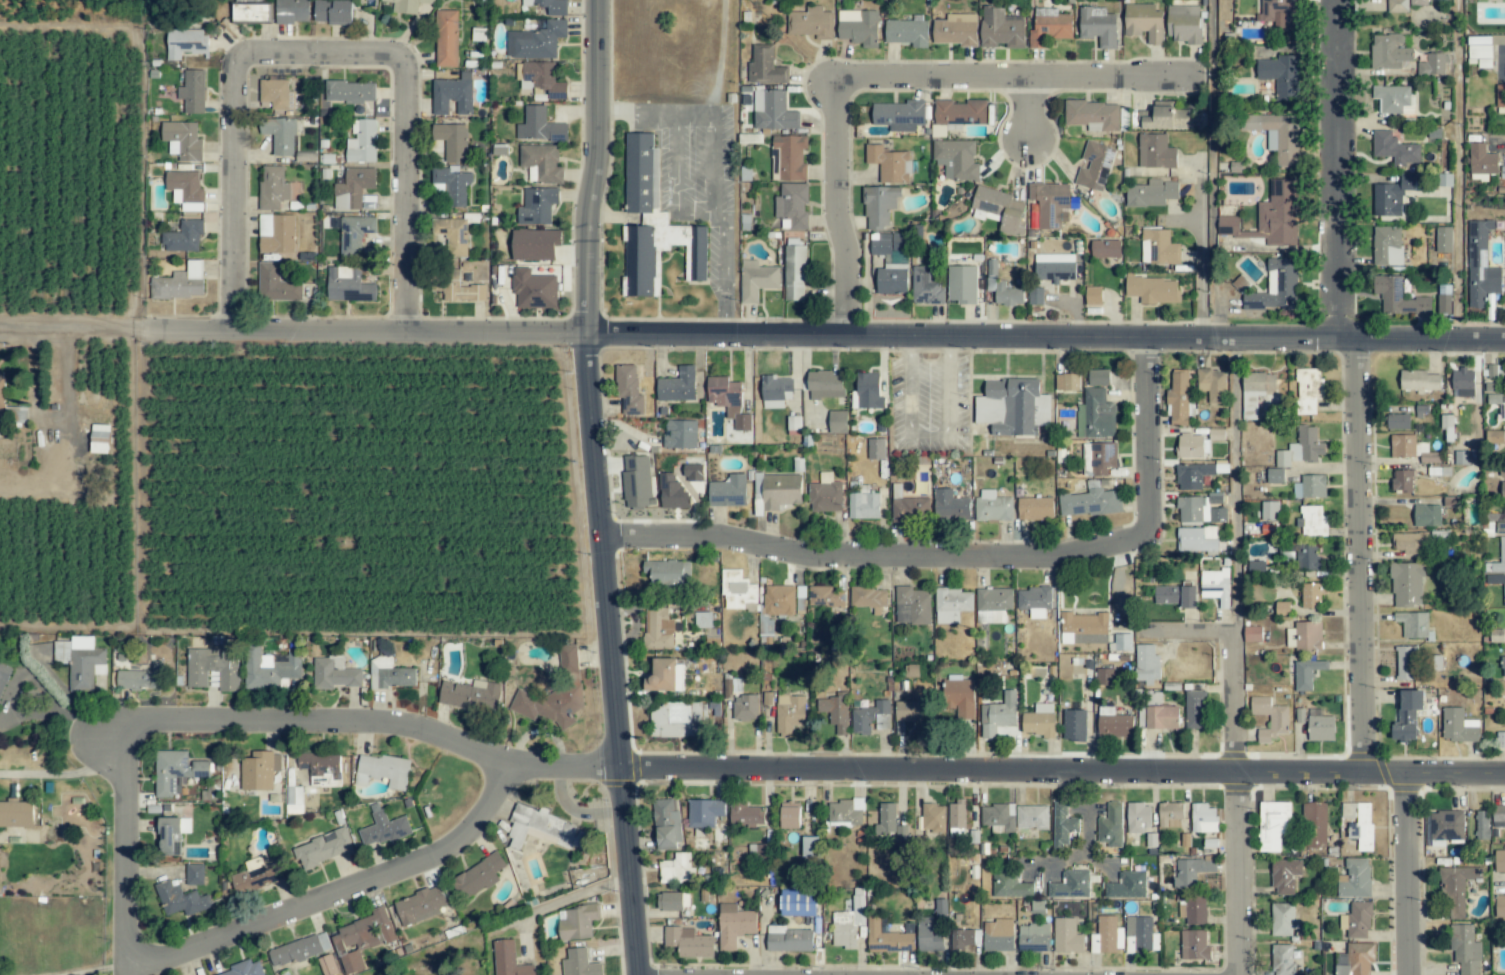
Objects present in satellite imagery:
building: (407, 5)
building: (1403, 5)
building: (549, 6)
building: (250, 11)
building: (291, 11)
building: (332, 11)
building: (1280, 12)
building: (811, 23)
building: (1144, 23)
building: (1184, 23)
building: (1098, 26)
building: (858, 27)
building: (1001, 29)
building: (1049, 29)
building: (956, 30)
building: (906, 32)
building: (446, 38)
building: (536, 41)
building: (186, 43)
building: (1389, 51)
building: (1479, 51)
road: (322, 55)
road: (719, 56)
building: (1433, 64)
building: (765, 67)
building: (1281, 75)
road: (886, 77)
building: (542, 80)
building: (193, 91)
building: (349, 92)
building: (277, 94)
building: (453, 94)
building: (1500, 95)
building: (1394, 99)
road: (1031, 108)
road: (654, 111)
building: (773, 111)
building: (960, 112)
building: (899, 115)
building: (1093, 115)
building: (1164, 116)
building: (540, 126)
building: (280, 135)
building: (1280, 135)
building: (182, 140)
building: (1271, 140)
building: (452, 141)
building: (362, 142)
road: (1504, 142)
building: (1394, 148)
building: (1155, 152)
building: (791, 157)
building: (956, 159)
building: (1482, 161)
building: (541, 163)
building: (889, 164)
building: (1094, 166)
road: (1213, 169)
road: (1336, 169)
road: (675, 179)
building: (453, 184)
building: (272, 187)
building: (353, 188)
building: (1151, 193)
building: (1391, 196)
building: (1050, 203)
building: (537, 206)
building: (792, 206)
building: (879, 206)
building: (997, 208)
building: (1278, 214)
road: (720, 221)
building: (653, 224)
building: (1228, 226)
building: (276, 233)
building: (355, 233)
building: (454, 236)
building: (183, 237)
building: (1443, 239)
building: (535, 244)
building: (1387, 246)
building: (1158, 247)
building: (1105, 249)
building: (891, 263)
building: (1480, 265)
road: (585, 267)
building: (1054, 267)
road: (1197, 267)
building: (794, 269)
building: (756, 280)
building: (179, 283)
building: (276, 284)
building: (962, 284)
building: (348, 285)
building: (925, 287)
building: (1276, 287)
building: (1002, 288)
building: (461, 290)
building: (534, 290)
building: (1153, 290)
building: (1093, 295)
building: (1035, 296)
building: (1398, 297)
building: (1444, 302)
road: (73, 328)
road: (825, 335)
building: (1098, 377)
building: (1419, 381)
building: (1067, 382)
building: (1463, 383)
building: (1212, 384)
building: (825, 385)
building: (678, 386)
building: (2, 388)
building: (1308, 390)
building: (629, 391)
building: (775, 391)
building: (868, 391)
building: (1255, 391)
building: (1178, 398)
building: (728, 400)
building: (1013, 407)
building: (1502, 408)
building: (1095, 415)
building: (1398, 421)
road: (52, 422)
building: (837, 422)
building: (1447, 426)
crop: (240, 432)
building: (680, 434)
building: (1216, 434)
road: (928, 435)
building: (1493, 436)
building: (100, 438)
building: (1192, 446)
building: (1301, 448)
building: (1411, 448)
building: (876, 449)
building: (1102, 458)
building: (693, 472)
building: (1275, 475)
building: (1192, 476)
building: (1403, 480)
building: (636, 482)
road: (1235, 485)
building: (1310, 487)
building: (1502, 490)
building: (776, 491)
building: (673, 492)
building: (728, 492)
building: (825, 494)
building: (1090, 502)
building: (863, 505)
building: (950, 506)
building: (992, 507)
building: (1035, 508)
building: (910, 510)
building: (1270, 510)
building: (1202, 511)
building: (1427, 515)
building: (1498, 521)
building: (1311, 522)
building: (1197, 539)
building: (1410, 542)
building: (1502, 550)
road: (976, 557)
building: (1307, 557)
road: (1361, 557)
building: (1256, 567)
building: (668, 572)
building: (1406, 584)
building: (1214, 586)
building: (738, 591)
building: (1504, 593)
building: (1311, 595)
building: (825, 596)
building: (1176, 596)
building: (868, 598)
building: (1035, 601)
building: (776, 605)
building: (952, 605)
building: (993, 605)
building: (912, 606)
building: (1282, 608)
building: (703, 620)
building: (1413, 624)
building: (1083, 628)
building: (658, 629)
road: (1186, 632)
building: (1252, 633)
building: (1308, 636)
building: (1122, 642)
building: (80, 661)
building: (1406, 663)
building: (1146, 664)
building: (213, 666)
building: (1503, 666)
building: (270, 669)
building: (334, 673)
building: (1307, 673)
building: (389, 674)
building: (3, 676)
building: (666, 676)
building: (1104, 677)
building: (141, 678)
building: (555, 694)
building: (471, 696)
building: (959, 698)
road: (1235, 703)
building: (744, 708)
building: (1195, 710)
building: (835, 712)
building: (789, 713)
building: (997, 715)
building: (1407, 716)
building: (1162, 717)
building: (871, 718)
building: (1270, 718)
building: (677, 719)
building: (1039, 721)
building: (1113, 723)
building: (1074, 725)
building: (1320, 726)
building: (1458, 726)
building: (1501, 740)
road: (621, 755)
building: (259, 770)
building: (176, 771)
building: (382, 771)
road: (815, 772)
road: (64, 773)
building: (294, 800)
building: (704, 813)
building: (845, 813)
building: (16, 814)
building: (745, 814)
building: (956, 814)
building: (790, 815)
building: (1170, 815)
building: (1499, 816)
building: (998, 817)
building: (1032, 817)
building: (1138, 817)
building: (886, 818)
building: (1203, 818)
building: (933, 819)
building: (665, 823)
building: (1062, 824)
building: (1359, 824)
building: (1110, 825)
building: (1273, 825)
building: (1315, 825)
building: (1482, 825)
building: (383, 827)
building: (544, 829)
building: (901, 833)
building: (172, 835)
building: (810, 846)
building: (323, 848)
road: (128, 852)
building: (1499, 860)
building: (677, 869)
building: (1192, 870)
building: (194, 874)
building: (257, 875)
road: (1248, 875)
road: (1413, 875)
building: (478, 876)
building: (1284, 876)
building: (1355, 879)
building: (1011, 885)
building: (1070, 885)
building: (1127, 885)
building: (1456, 890)
road: (338, 896)
building: (180, 900)
road: (561, 900)
building: (669, 901)
building: (798, 902)
building: (1499, 905)
building: (420, 906)
building: (1195, 910)
building: (1283, 919)
building: (1356, 921)
building: (578, 922)
building: (848, 922)
building: (734, 925)
building: (931, 929)
building: (998, 935)
building: (1107, 935)
building: (1140, 935)
building: (888, 936)
building: (1066, 936)
building: (964, 938)
building: (1033, 938)
building: (361, 939)
building: (789, 939)
building: (688, 942)
building: (1194, 945)
building: (298, 950)
building: (1466, 950)
building: (508, 959)
building: (1355, 959)
building: (1282, 960)
building: (579, 963)
building: (327, 965)
building: (243, 969)
road: (99, 970)

